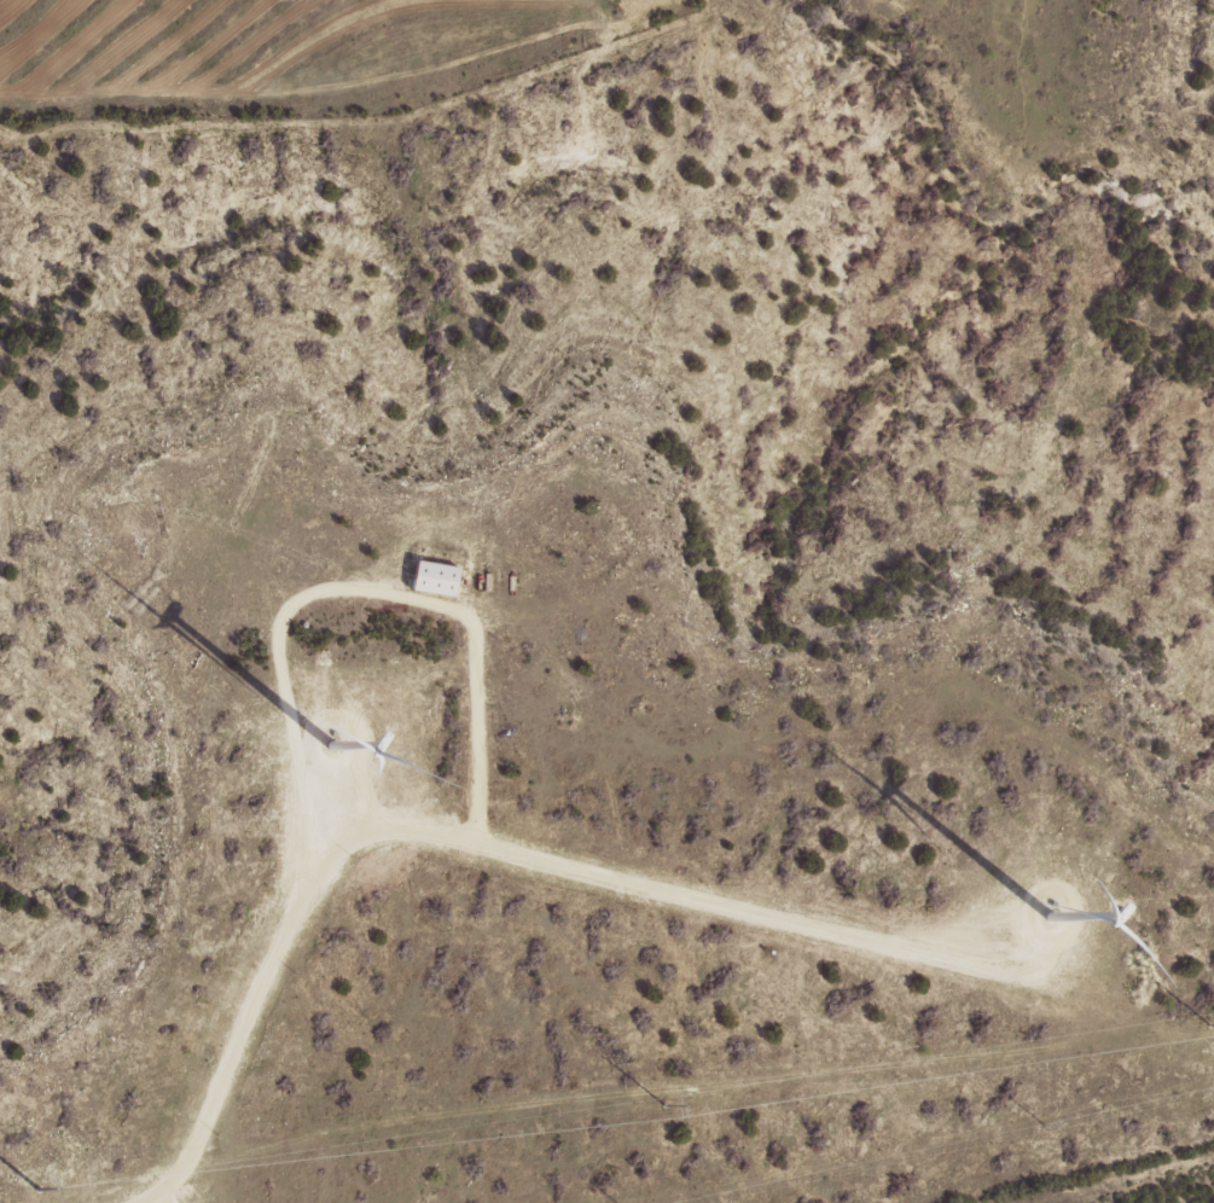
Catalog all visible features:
building: (440, 577)
wind turbine: (362, 748)
wind turbine: (1047, 924)
power tower: (1204, 1025)
power tower: (661, 1105)
power tower: (1042, 1123)
power tower: (35, 1189)

